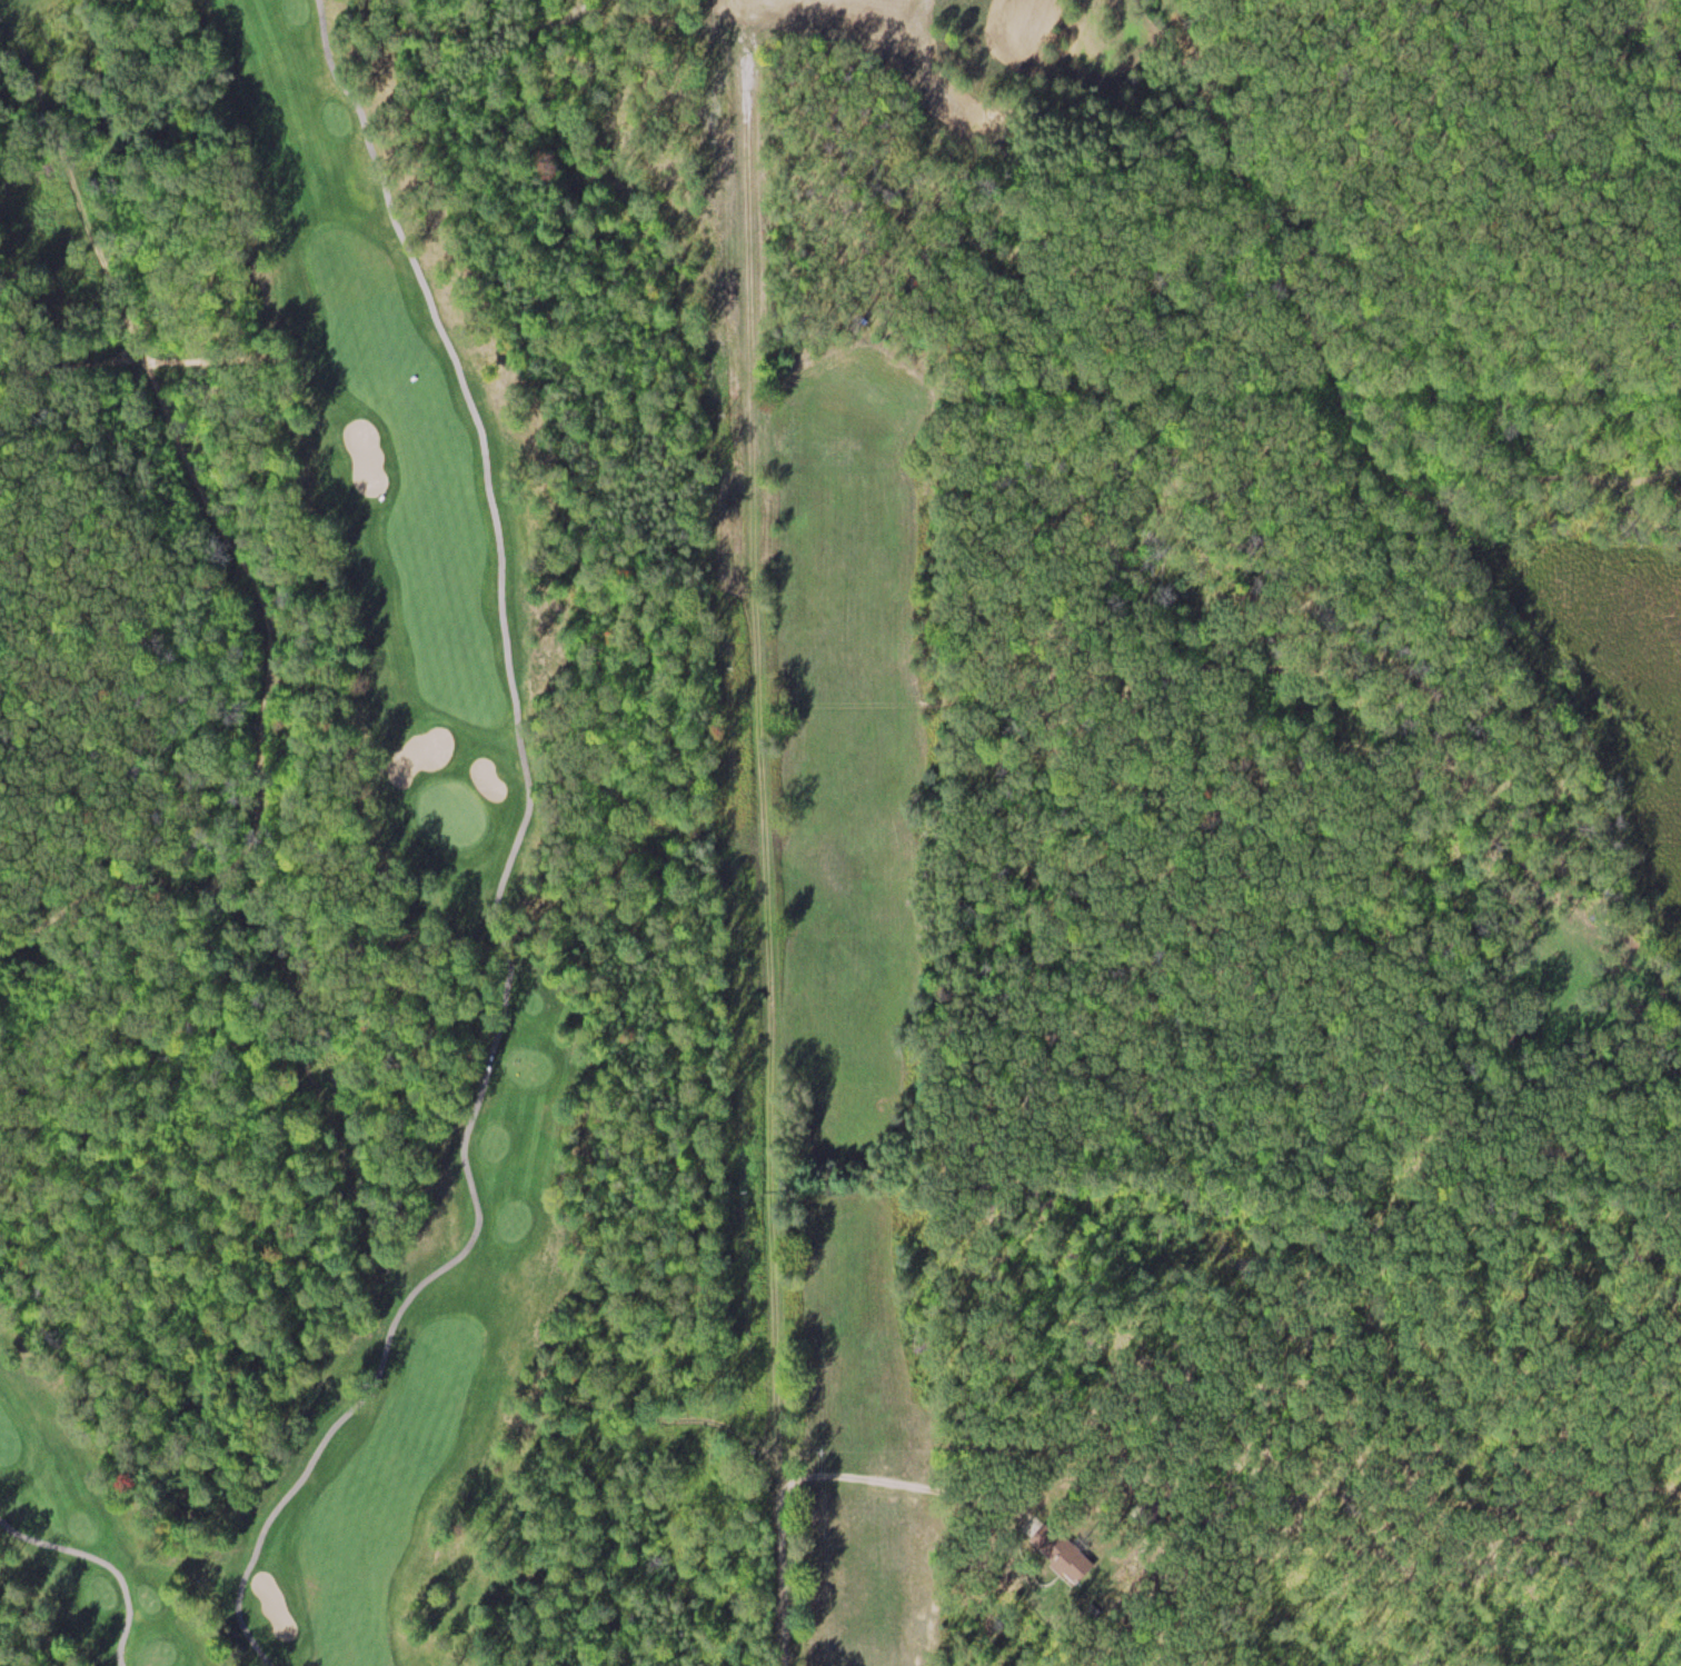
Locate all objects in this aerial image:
park: (451, 812)
road: (766, 848)
park: (317, 860)
building: (1062, 1554)

